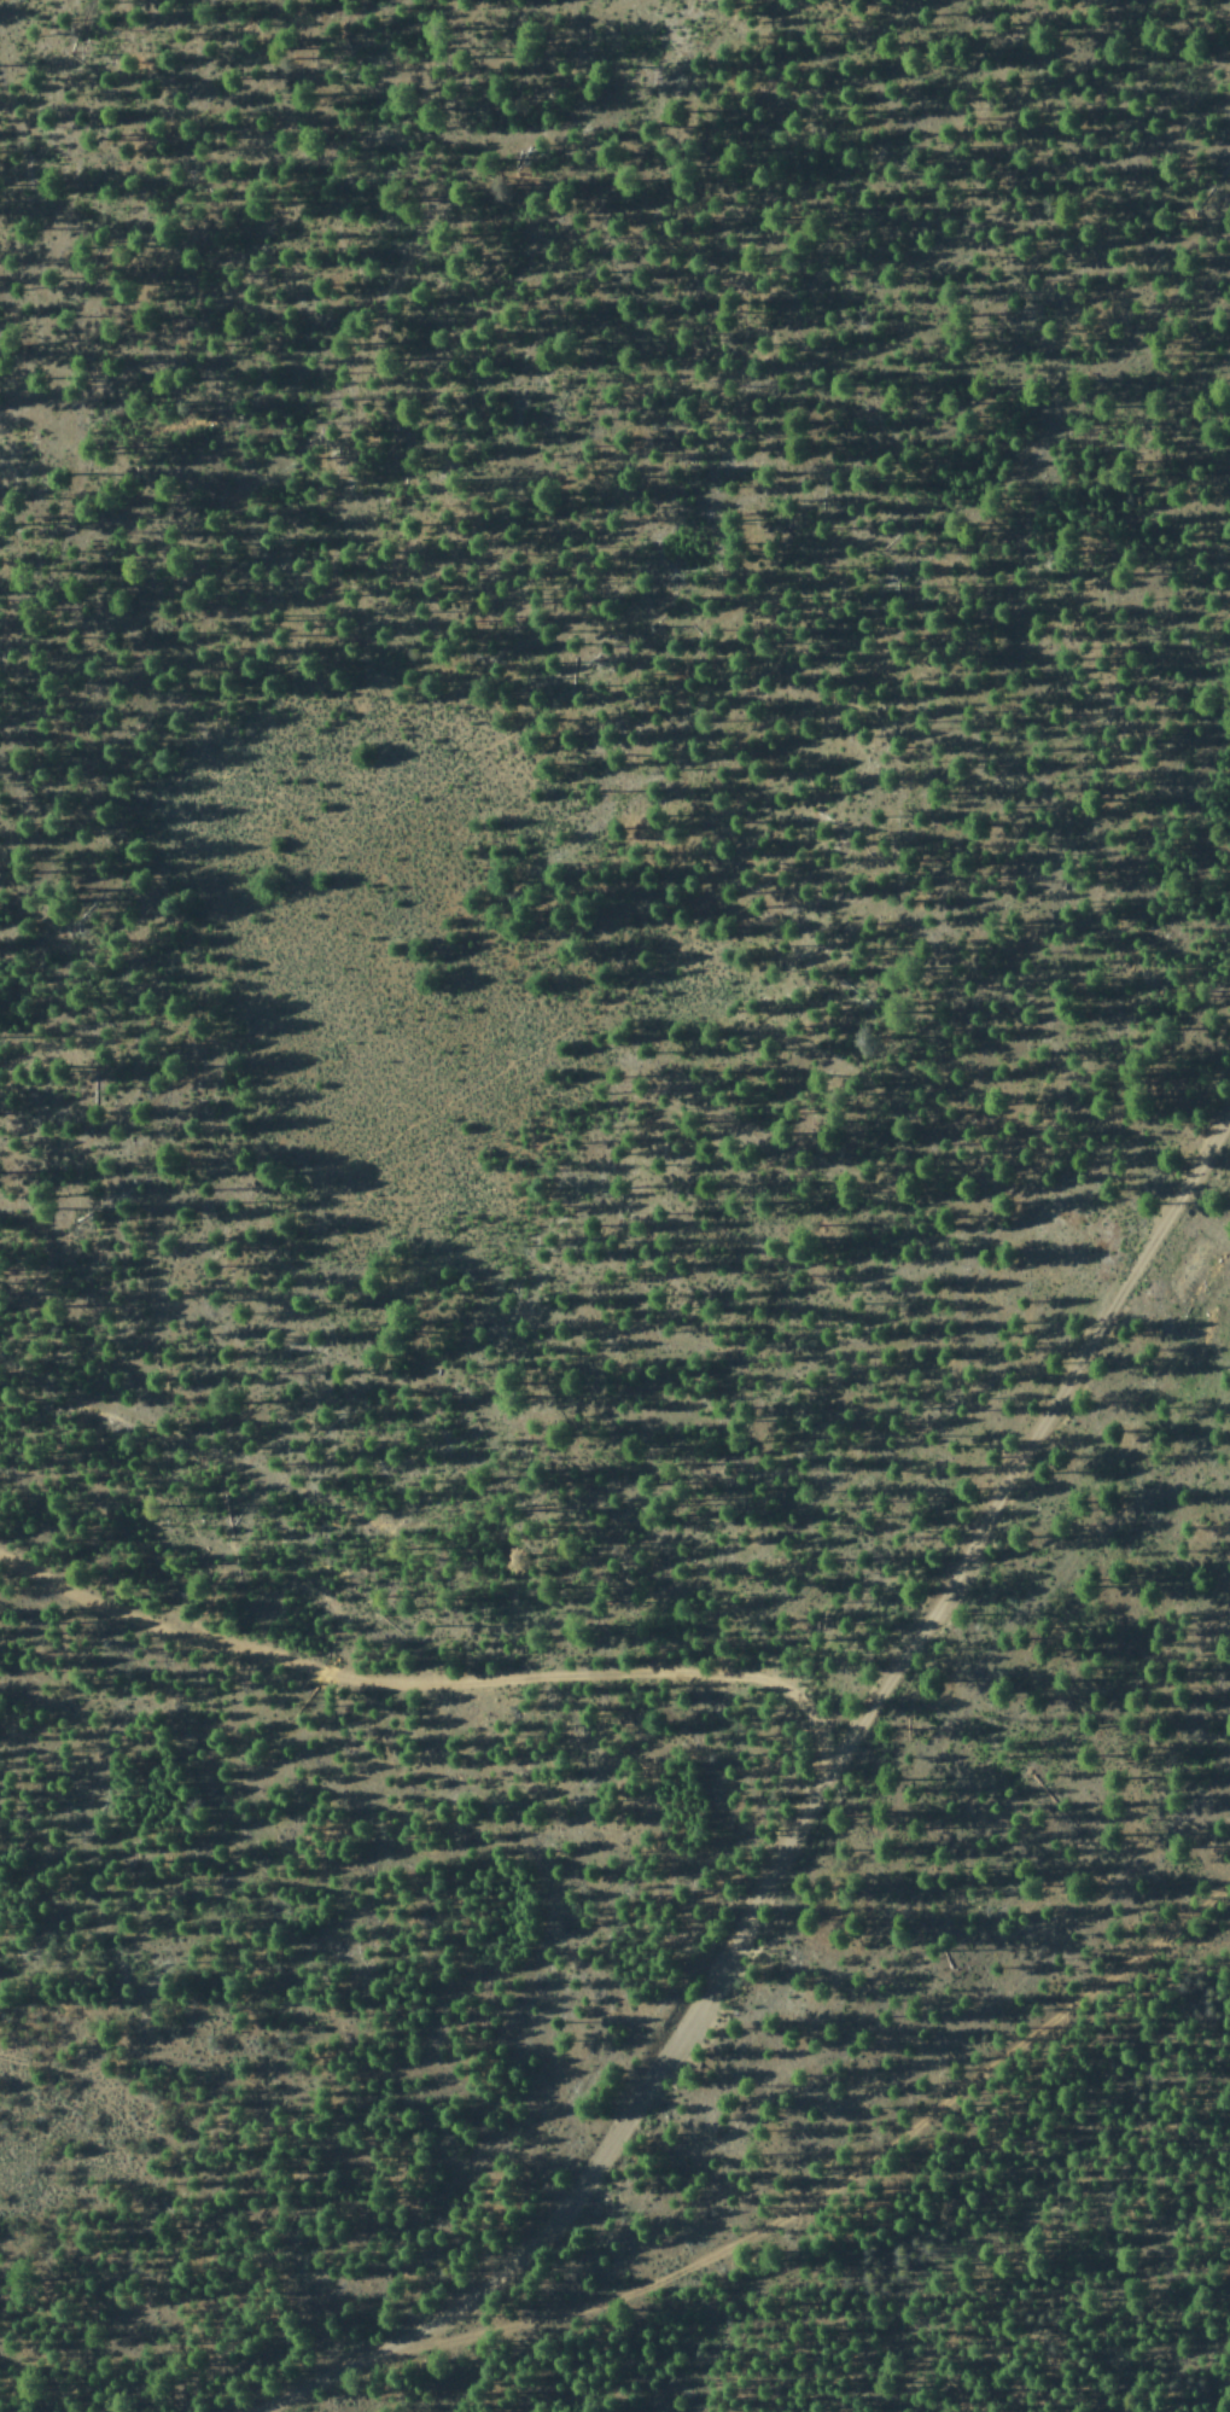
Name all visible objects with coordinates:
road: (409, 1525)
road: (1047, 1843)
road: (594, 2114)

